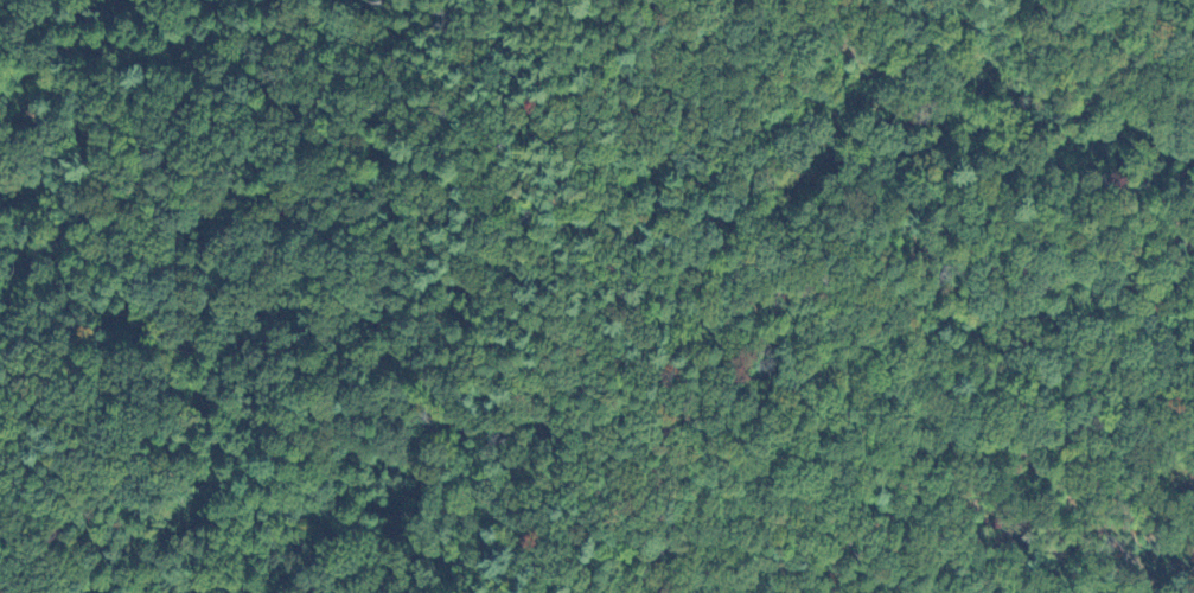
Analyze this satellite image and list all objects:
road: (32, 85)

